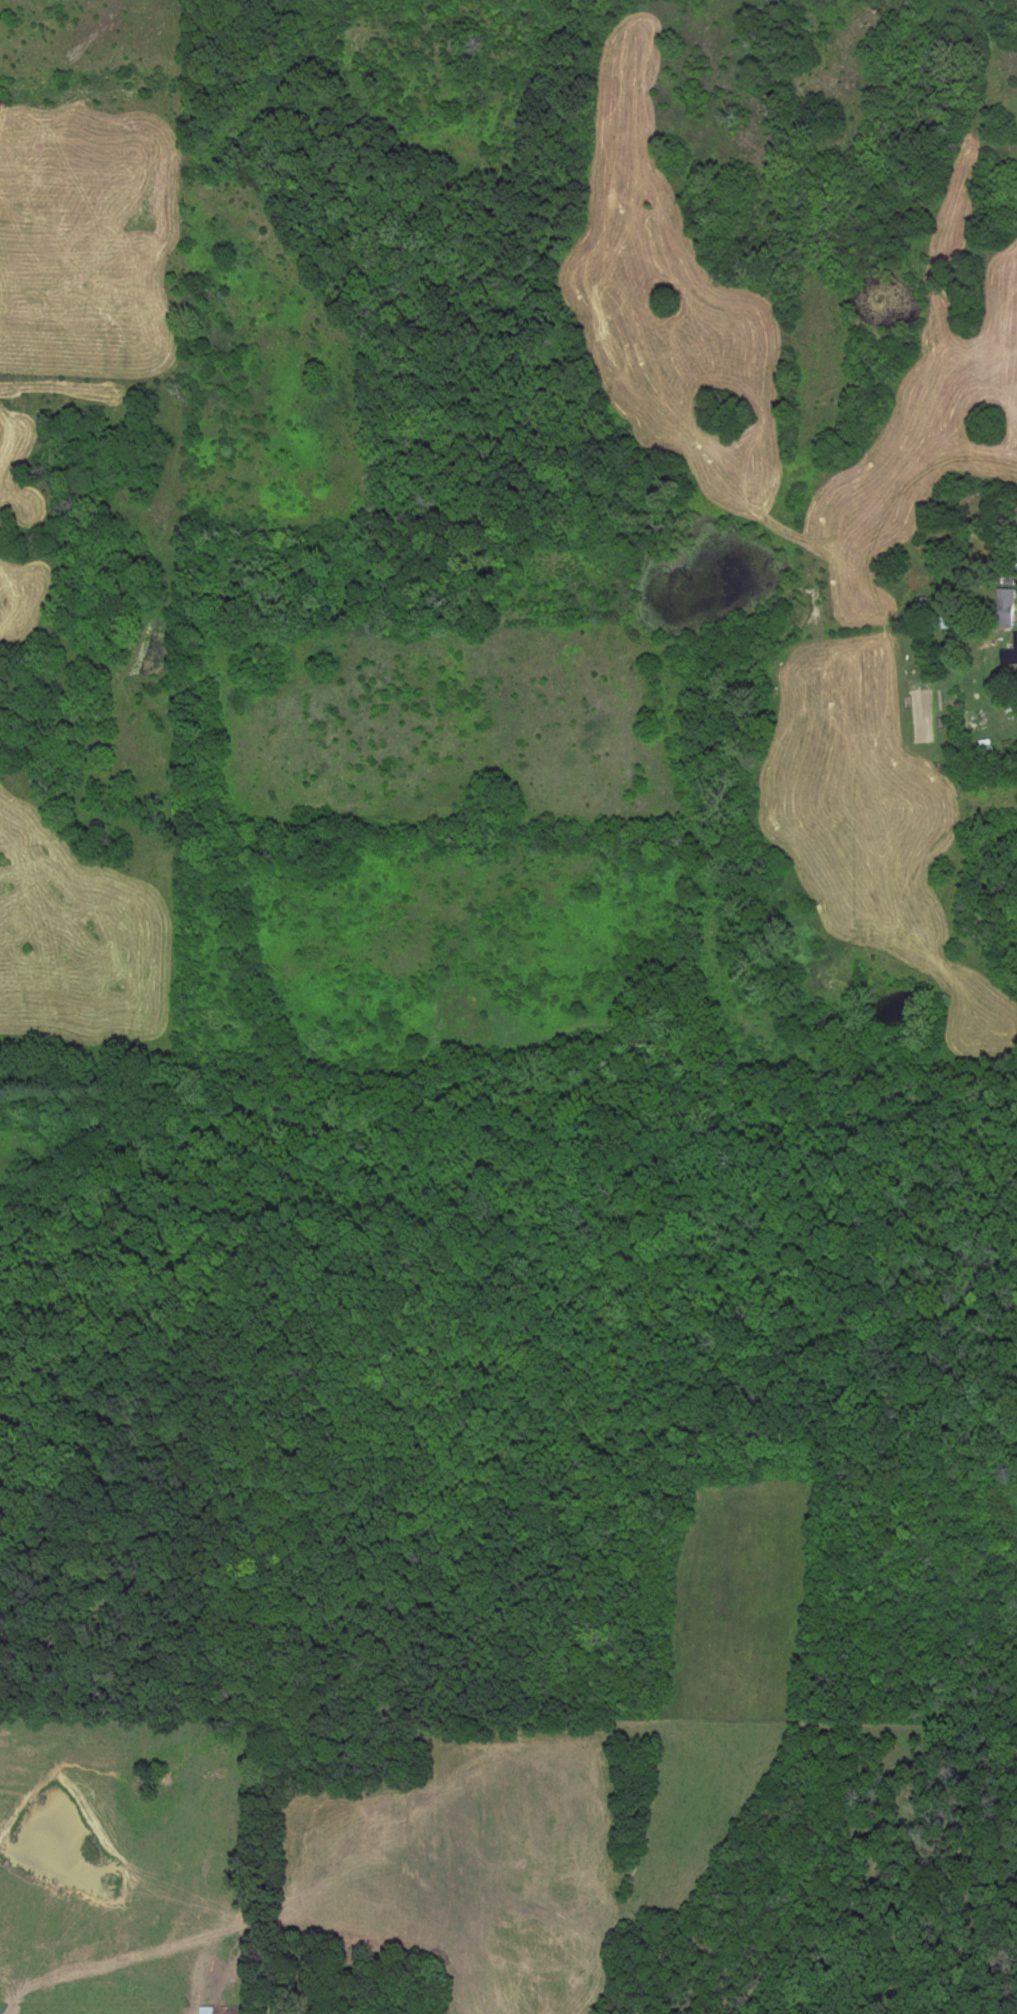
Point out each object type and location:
building: (1004, 610)
building: (968, 622)
building: (939, 624)

